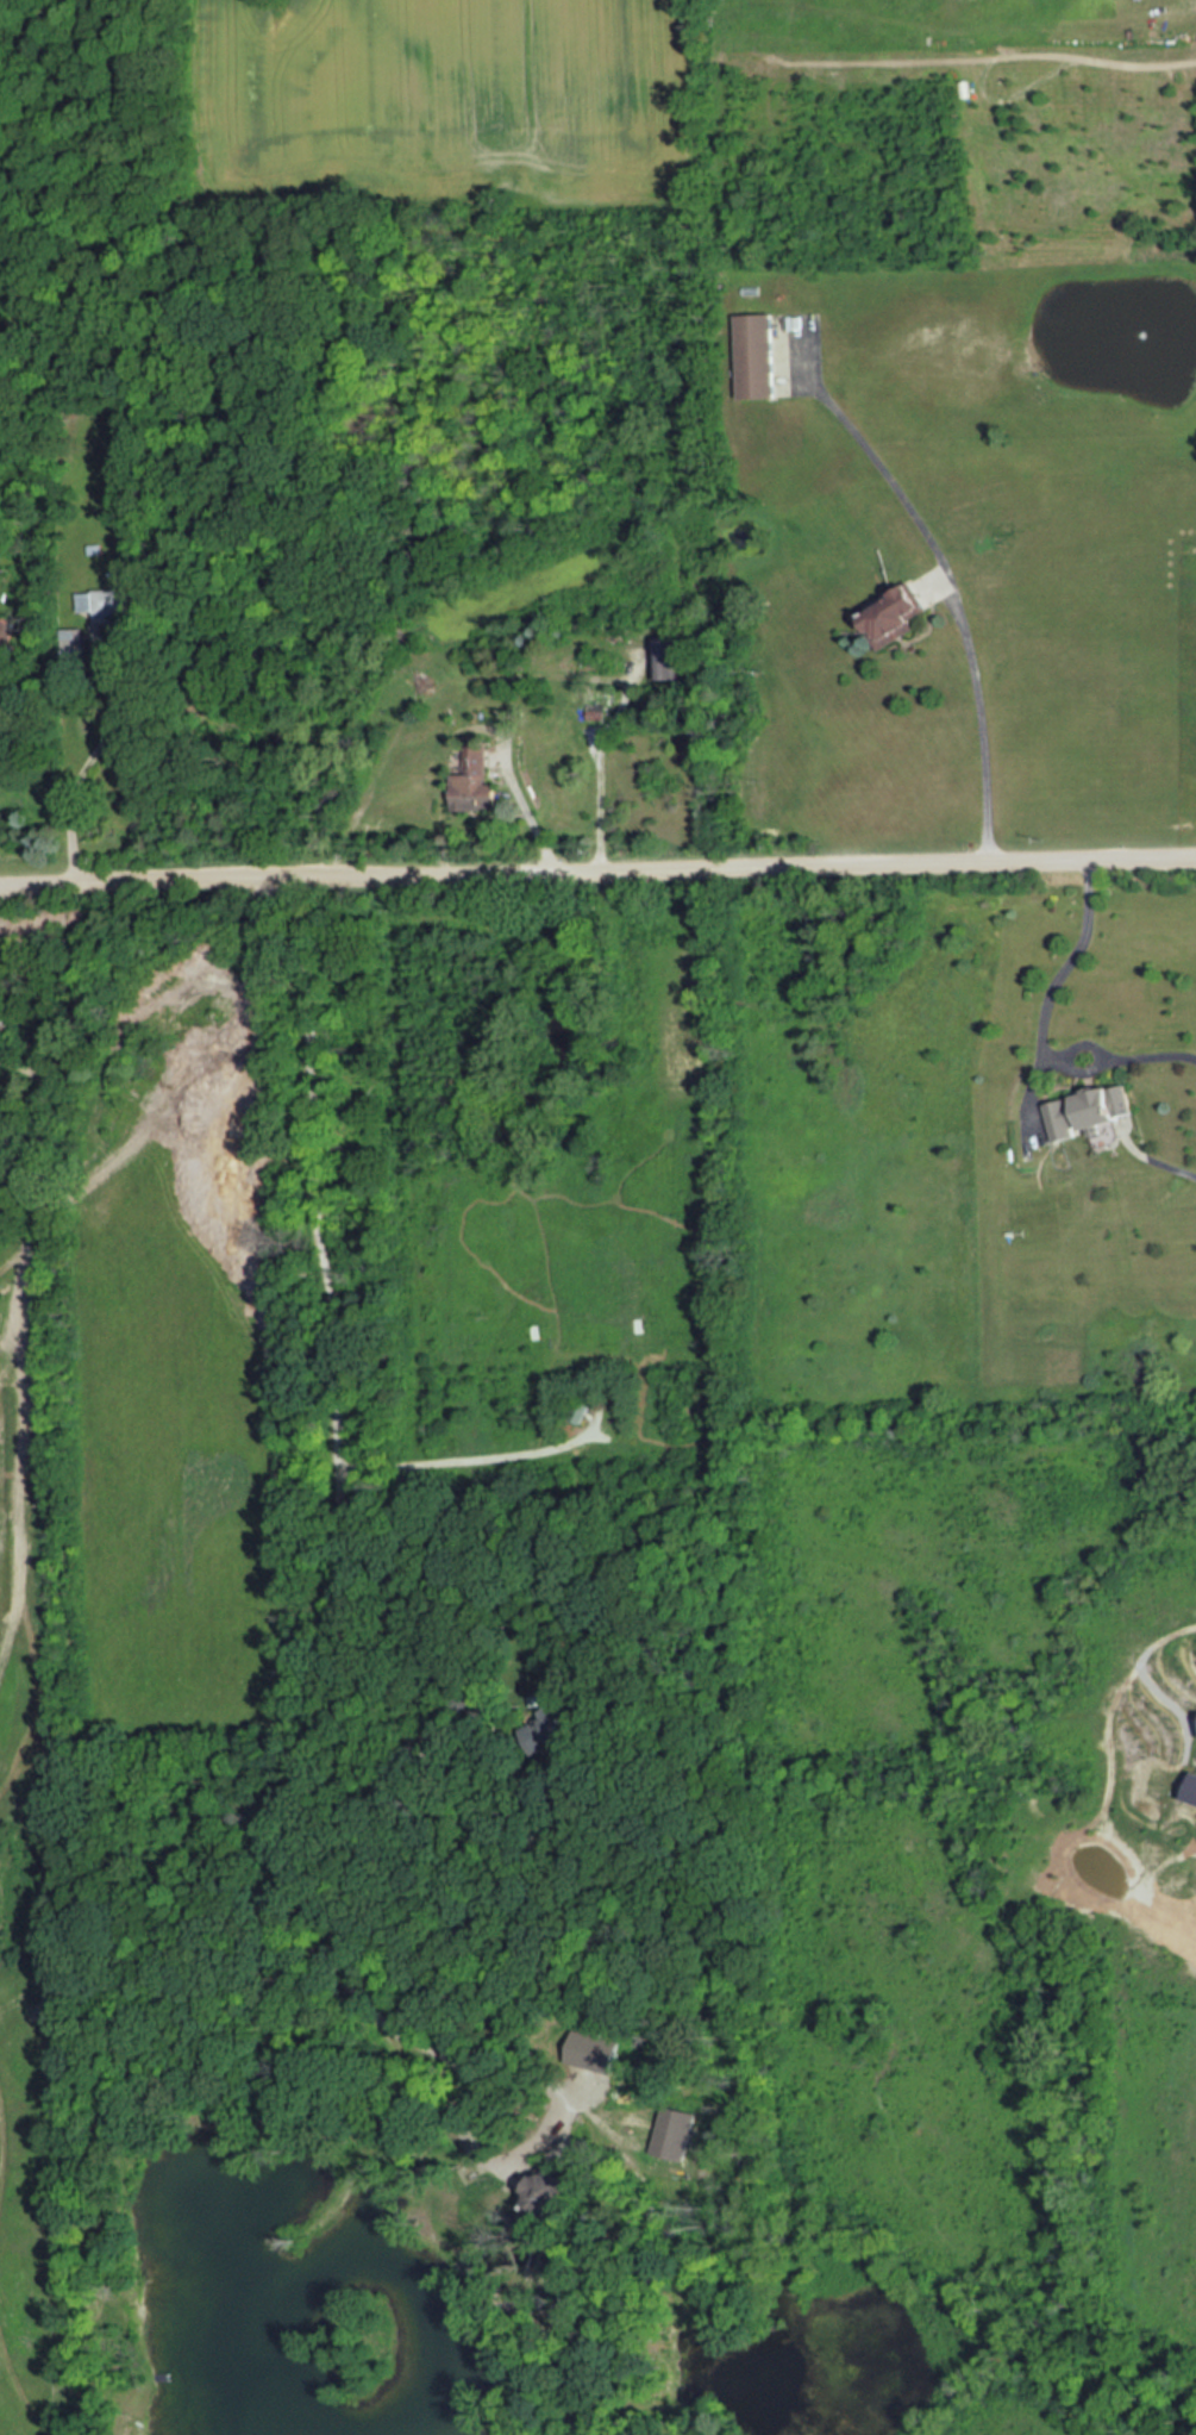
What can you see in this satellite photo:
building: (754, 355)
road: (957, 602)
building: (106, 604)
building: (893, 616)
building: (669, 660)
road: (96, 755)
road: (599, 766)
building: (470, 781)
road: (526, 807)
road: (744, 863)
road: (184, 874)
road: (38, 876)
road: (1042, 1028)
building: (1090, 1110)
road: (471, 1462)
road: (336, 1655)
road: (381, 1685)
building: (546, 1731)
building: (1189, 1787)
building: (594, 2055)
building: (675, 2134)
building: (550, 2204)

